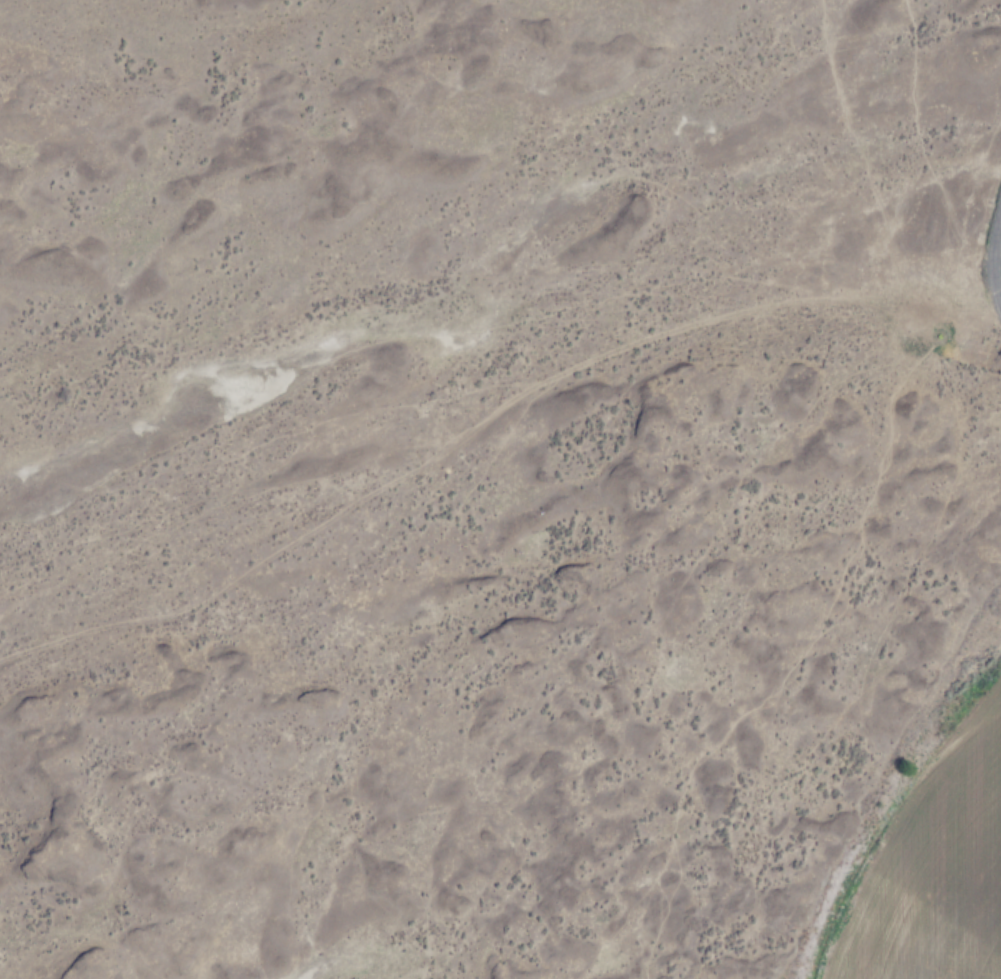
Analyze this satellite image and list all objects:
road: (988, 257)

